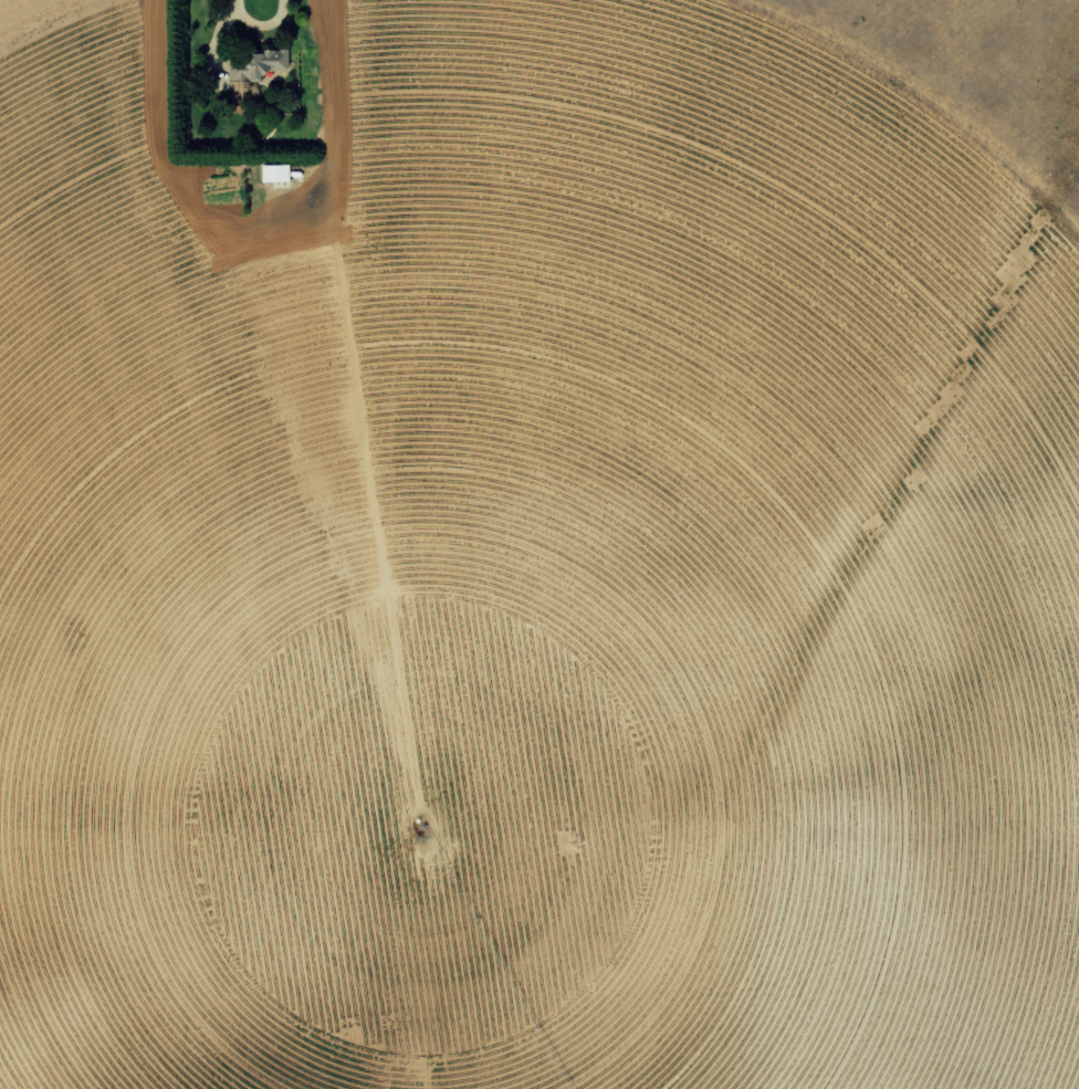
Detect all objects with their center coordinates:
road: (260, 29)

